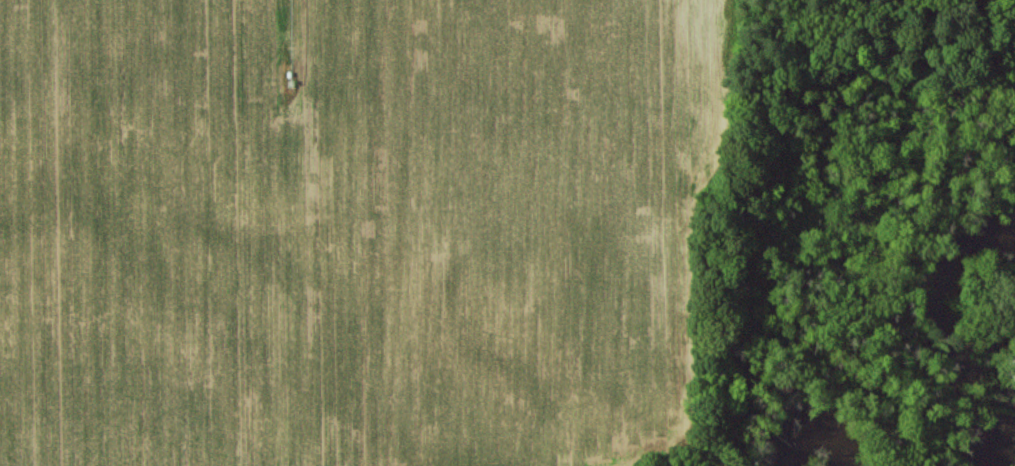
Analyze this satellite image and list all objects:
river: (974, 353)
river: (813, 449)

